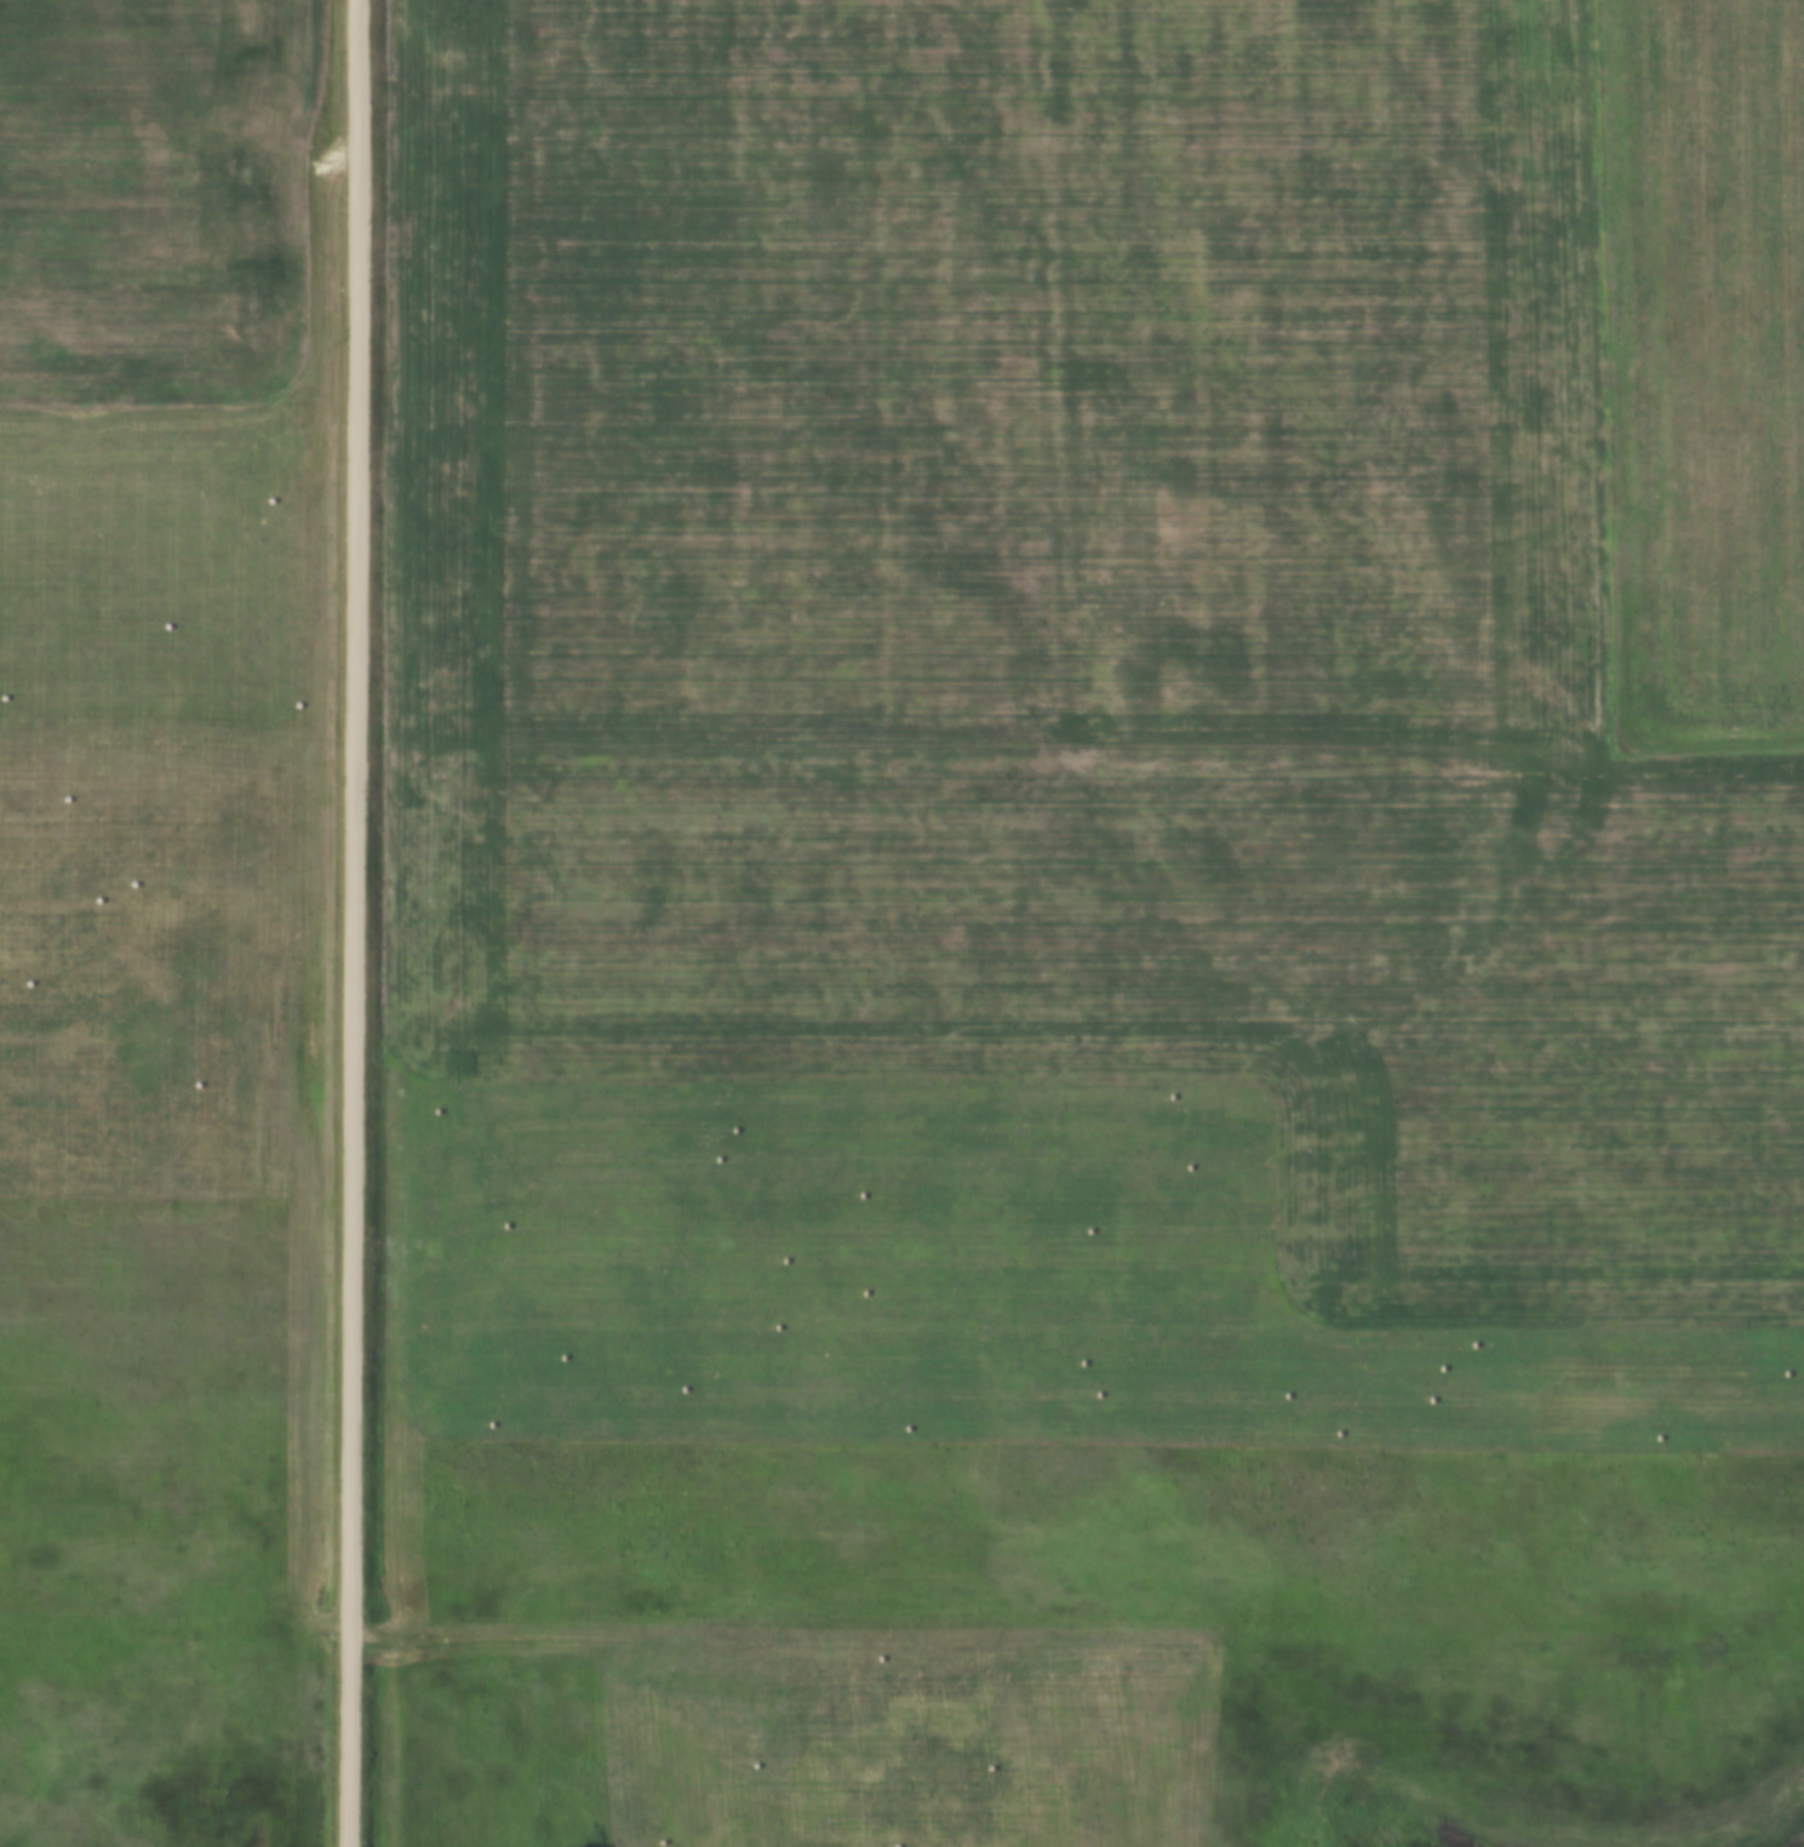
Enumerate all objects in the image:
road: (356, 922)
road: (168, 1682)

